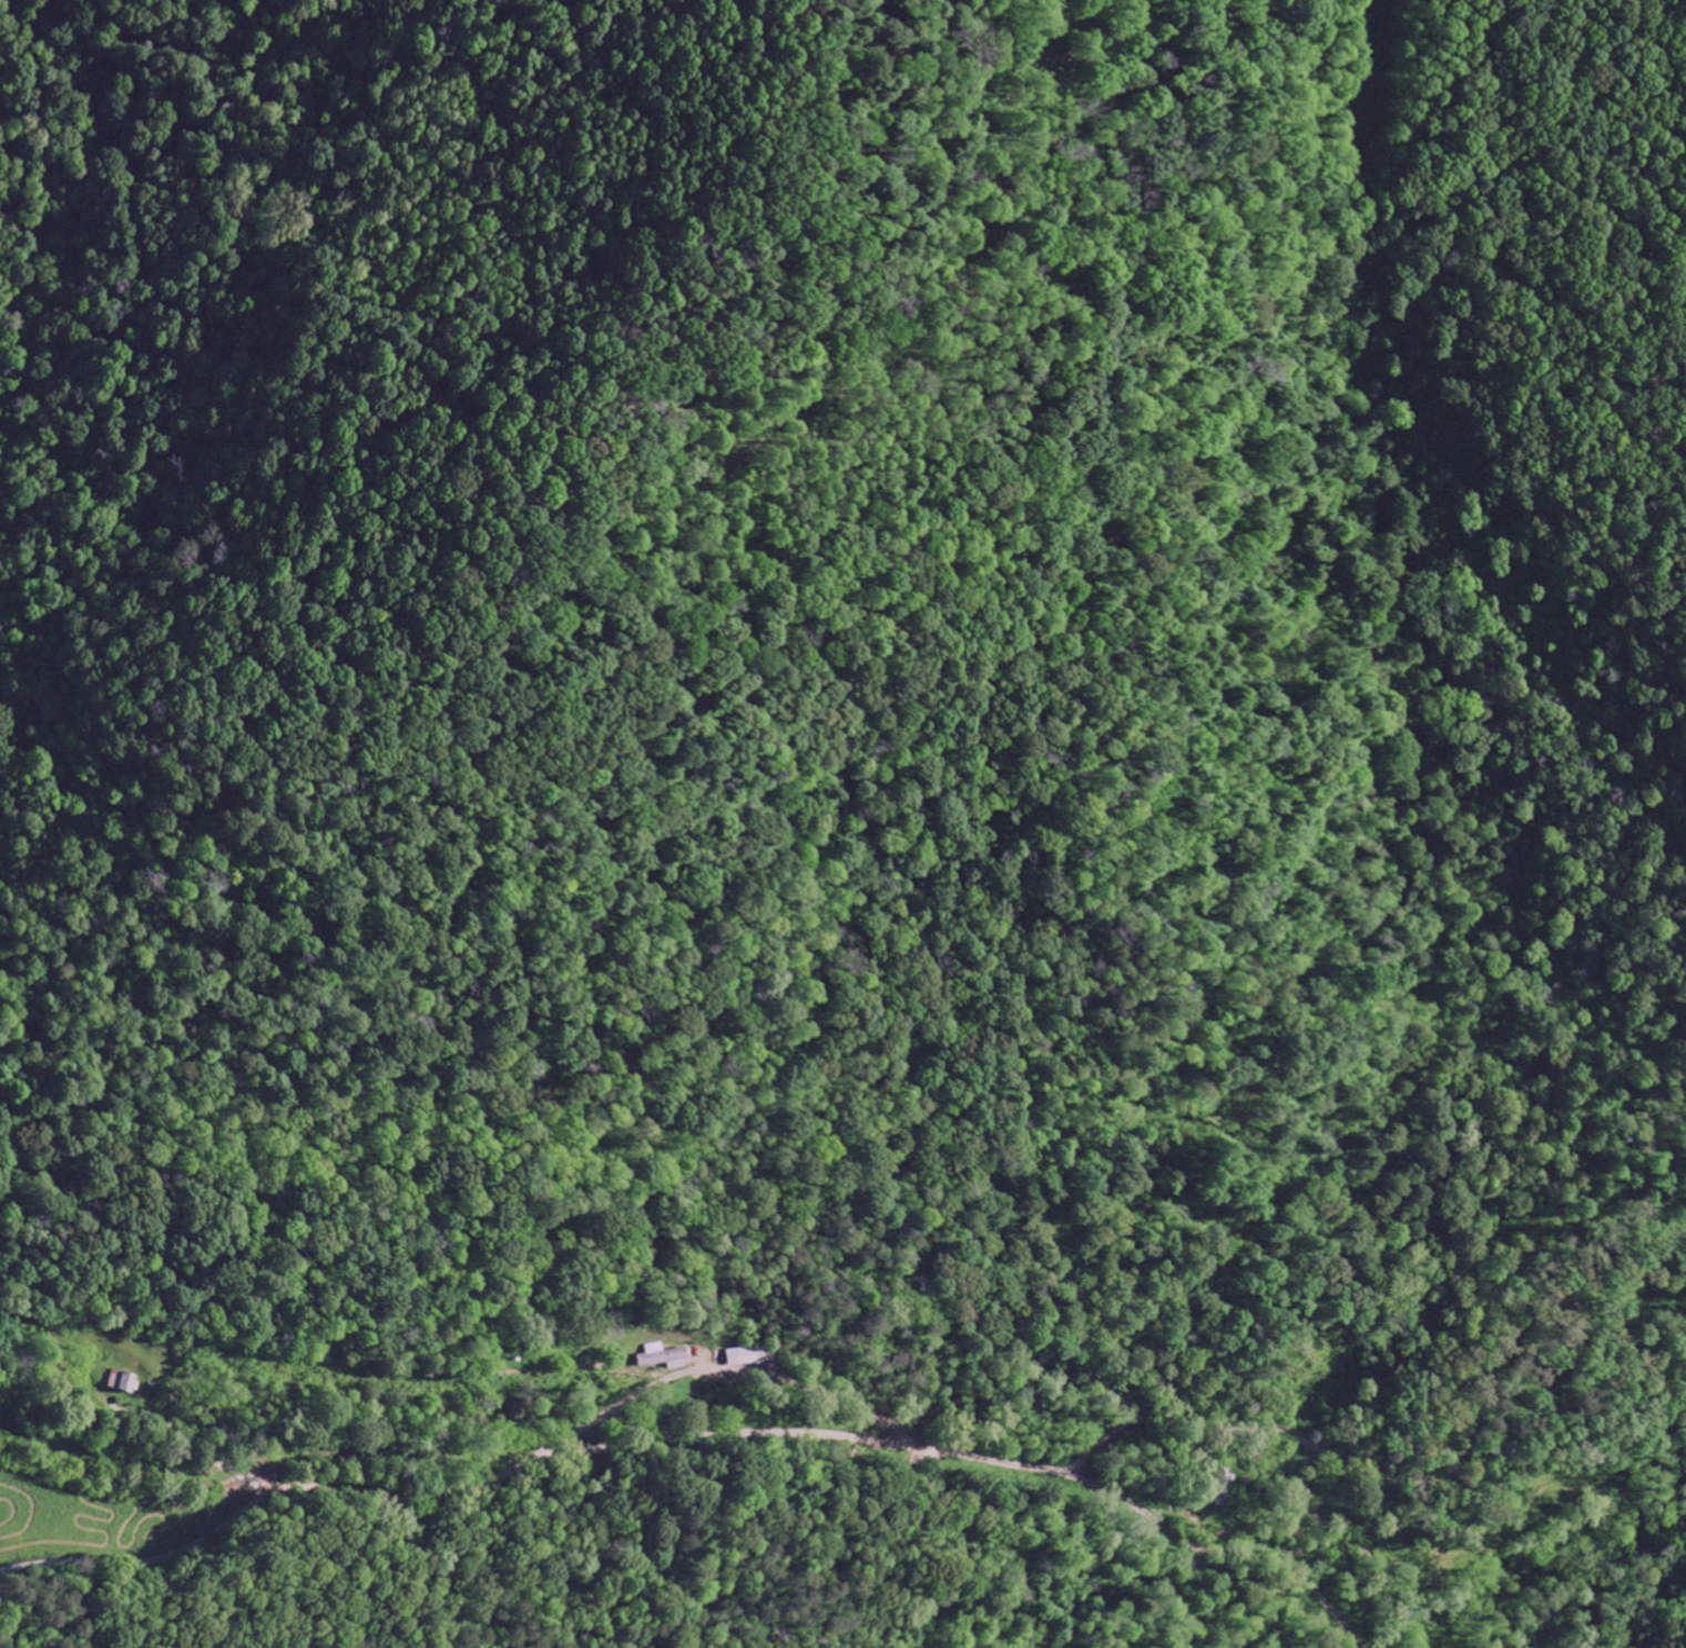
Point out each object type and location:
building: (665, 1358)
building: (735, 1359)
building: (121, 1382)
road: (908, 1451)
road: (1166, 1537)

